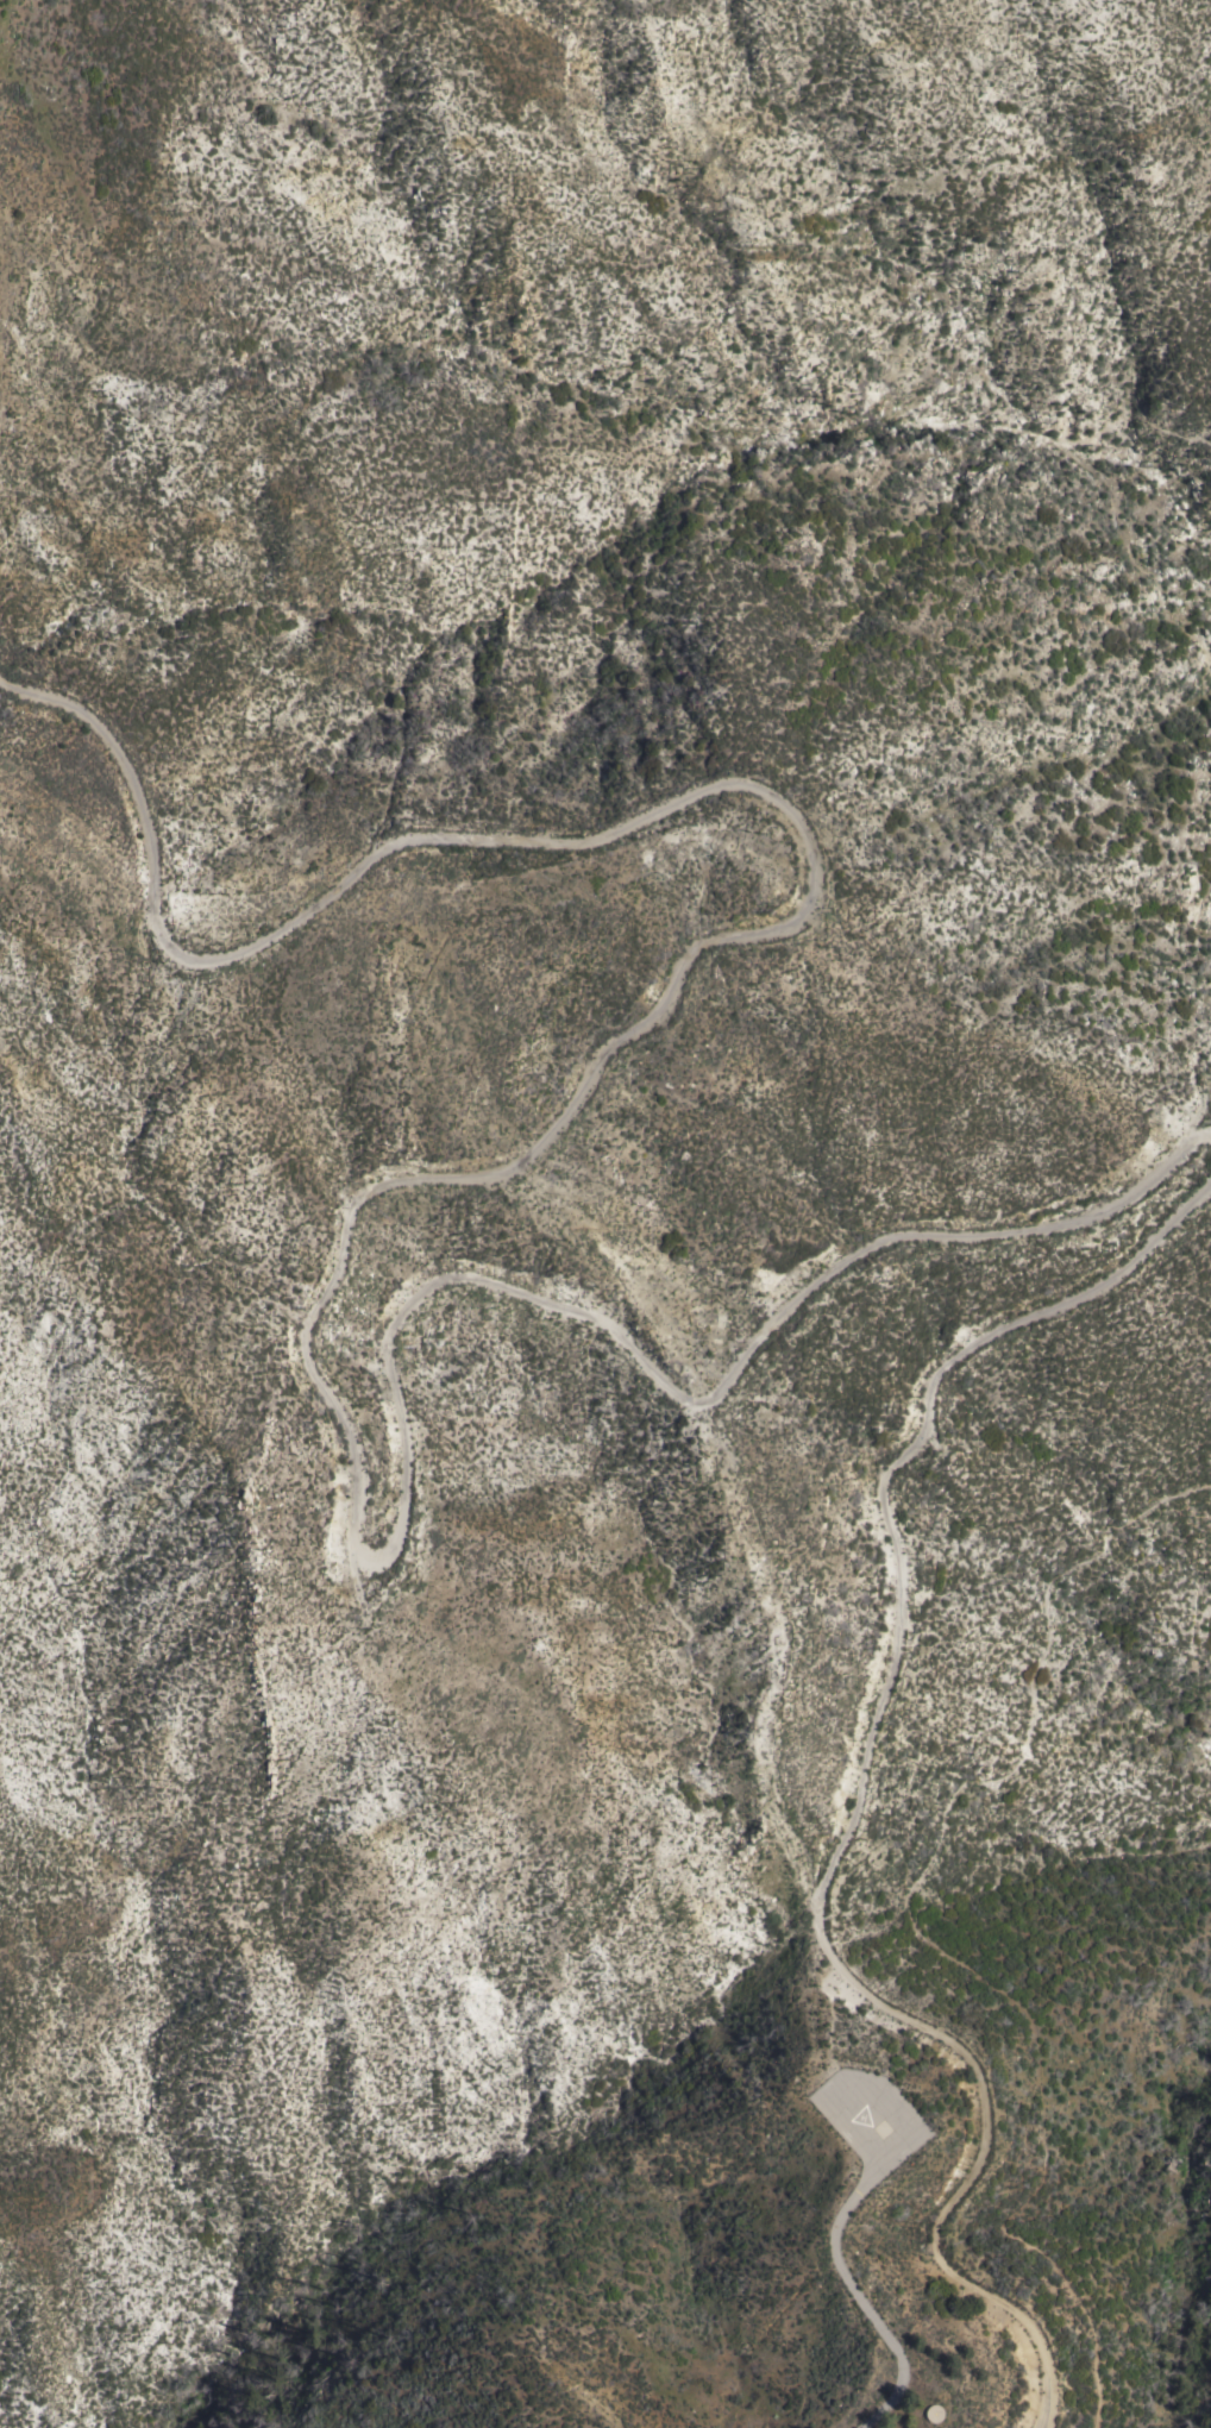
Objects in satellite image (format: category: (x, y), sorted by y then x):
road: (1104, 487)
road: (401, 1179)
road: (853, 1796)
road: (920, 1930)
helipad: (859, 2125)
road: (857, 2303)
building: (925, 2413)

